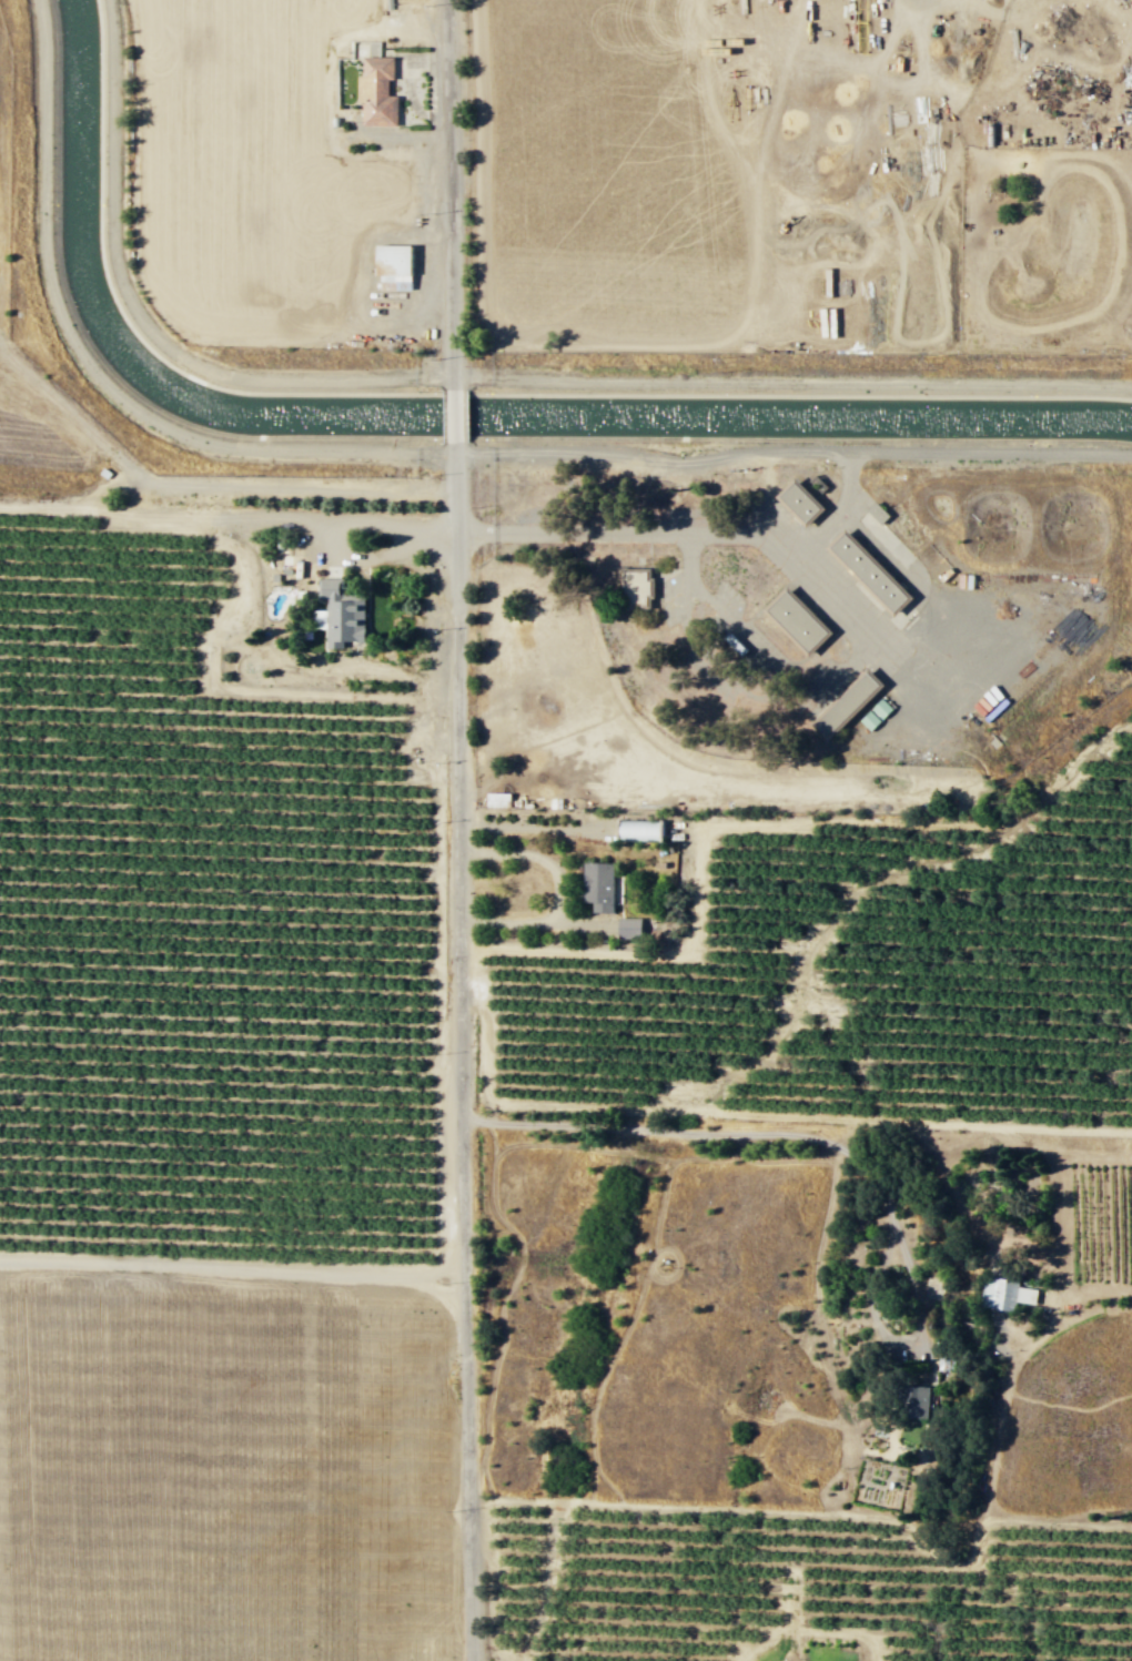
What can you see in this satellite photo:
building: (376, 85)
road: (447, 194)
building: (393, 266)
road: (453, 416)
road: (993, 453)
road: (655, 458)
road: (264, 484)
building: (800, 502)
road: (170, 514)
road: (341, 519)
road: (684, 533)
building: (870, 573)
building: (637, 588)
building: (340, 612)
building: (798, 620)
road: (881, 638)
road: (755, 640)
road: (728, 689)
road: (235, 690)
building: (846, 703)
building: (875, 713)
building: (640, 829)
building: (598, 885)
road: (556, 891)
building: (629, 928)
road: (456, 1052)
road: (231, 1267)
building: (1005, 1293)
building: (918, 1400)

